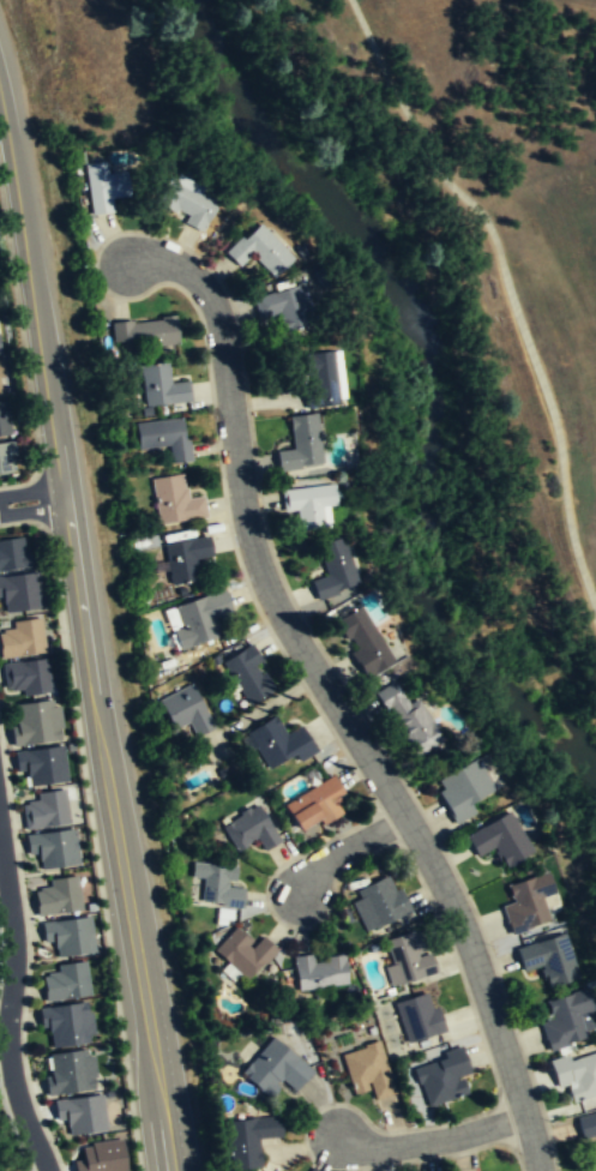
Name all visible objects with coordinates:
building: (104, 186)
building: (186, 202)
building: (259, 251)
road: (510, 290)
building: (287, 307)
building: (146, 332)
building: (0, 353)
building: (1, 368)
building: (321, 379)
river: (432, 379)
building: (162, 385)
building: (0, 390)
building: (4, 419)
building: (164, 437)
building: (301, 444)
building: (6, 456)
road: (32, 500)
building: (175, 500)
building: (309, 503)
building: (13, 553)
building: (186, 557)
building: (335, 568)
building: (20, 591)
building: (200, 618)
road: (86, 632)
building: (22, 637)
building: (365, 641)
building: (247, 673)
building: (26, 675)
road: (332, 698)
building: (186, 709)
building: (409, 719)
building: (36, 722)
building: (279, 741)
building: (42, 764)
building: (464, 788)
building: (317, 803)
building: (46, 809)
building: (251, 829)
building: (500, 839)
building: (54, 847)
road: (349, 848)
building: (218, 884)
building: (58, 896)
building: (525, 900)
building: (383, 901)
building: (70, 935)
building: (243, 951)
building: (409, 957)
building: (548, 957)
building: (319, 972)
building: (66, 980)
road: (11, 1007)
building: (419, 1017)
building: (565, 1017)
building: (66, 1022)
building: (275, 1068)
building: (368, 1070)
building: (70, 1071)
building: (574, 1074)
building: (444, 1077)
building: (82, 1112)
building: (585, 1124)
building: (248, 1139)
road: (434, 1140)
building: (102, 1157)

